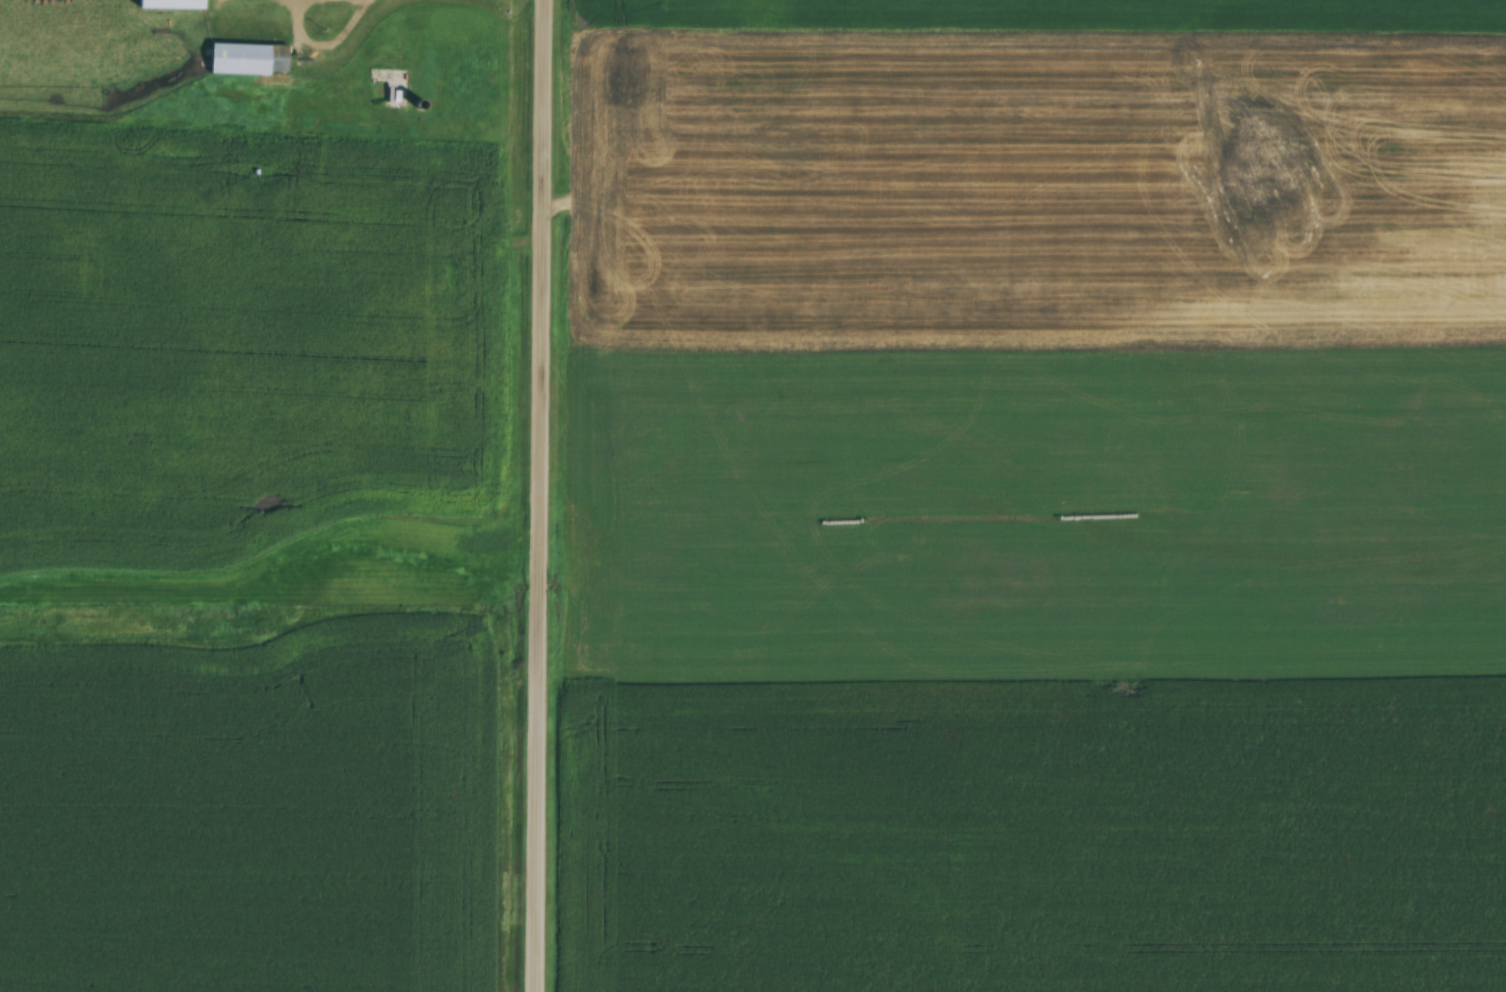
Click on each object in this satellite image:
building: (170, 5)
building: (247, 60)
building: (393, 97)
road: (541, 496)

